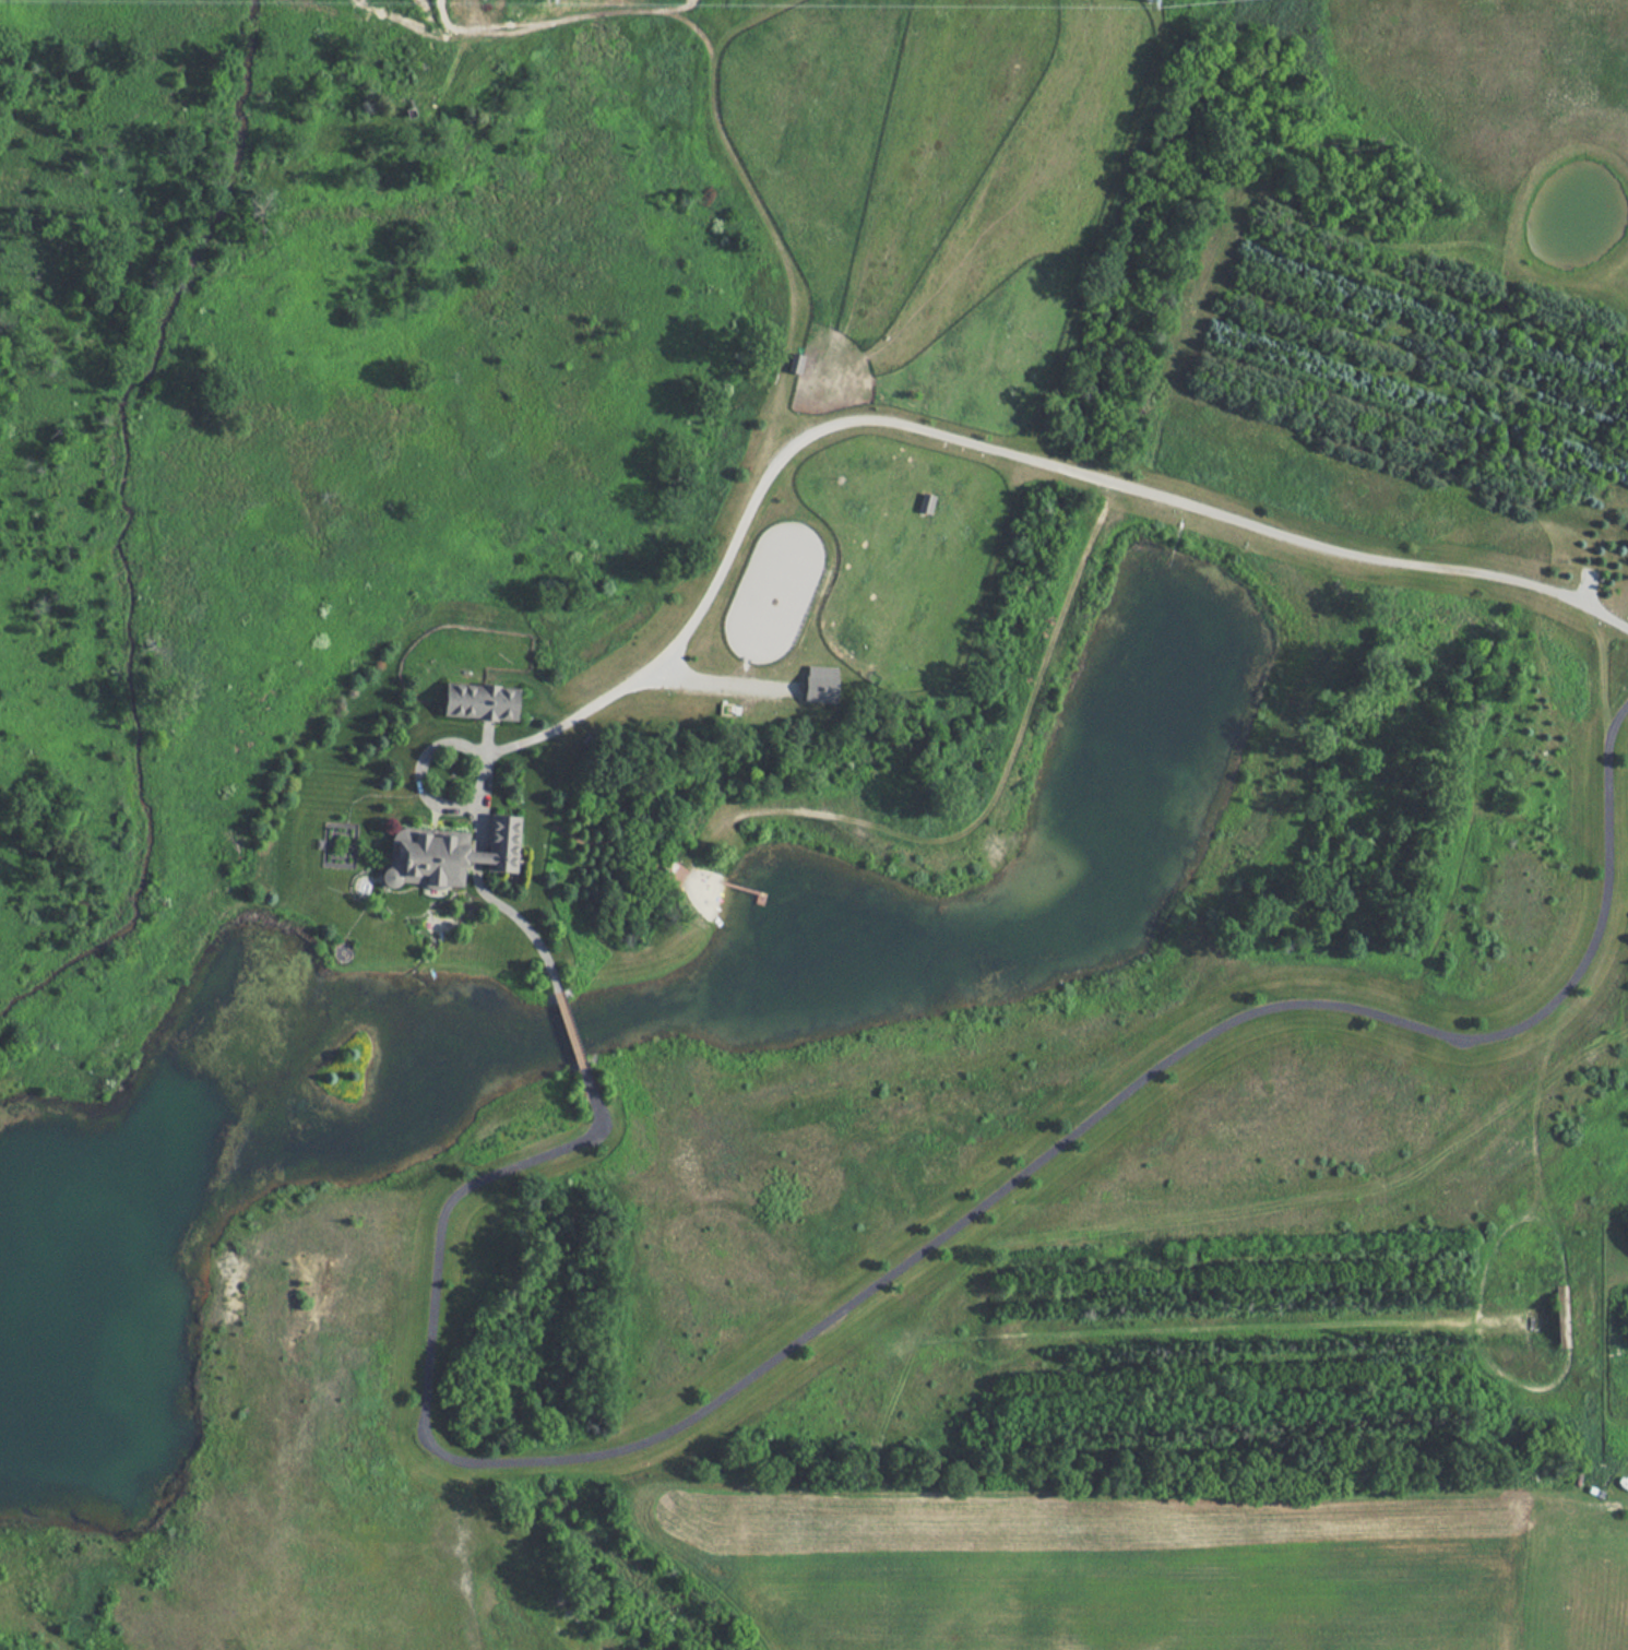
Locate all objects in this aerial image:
road: (910, 428)
building: (820, 684)
building: (480, 701)
building: (449, 853)
road: (472, 868)
road: (568, 1029)
road: (922, 1246)
road: (1606, 1497)

